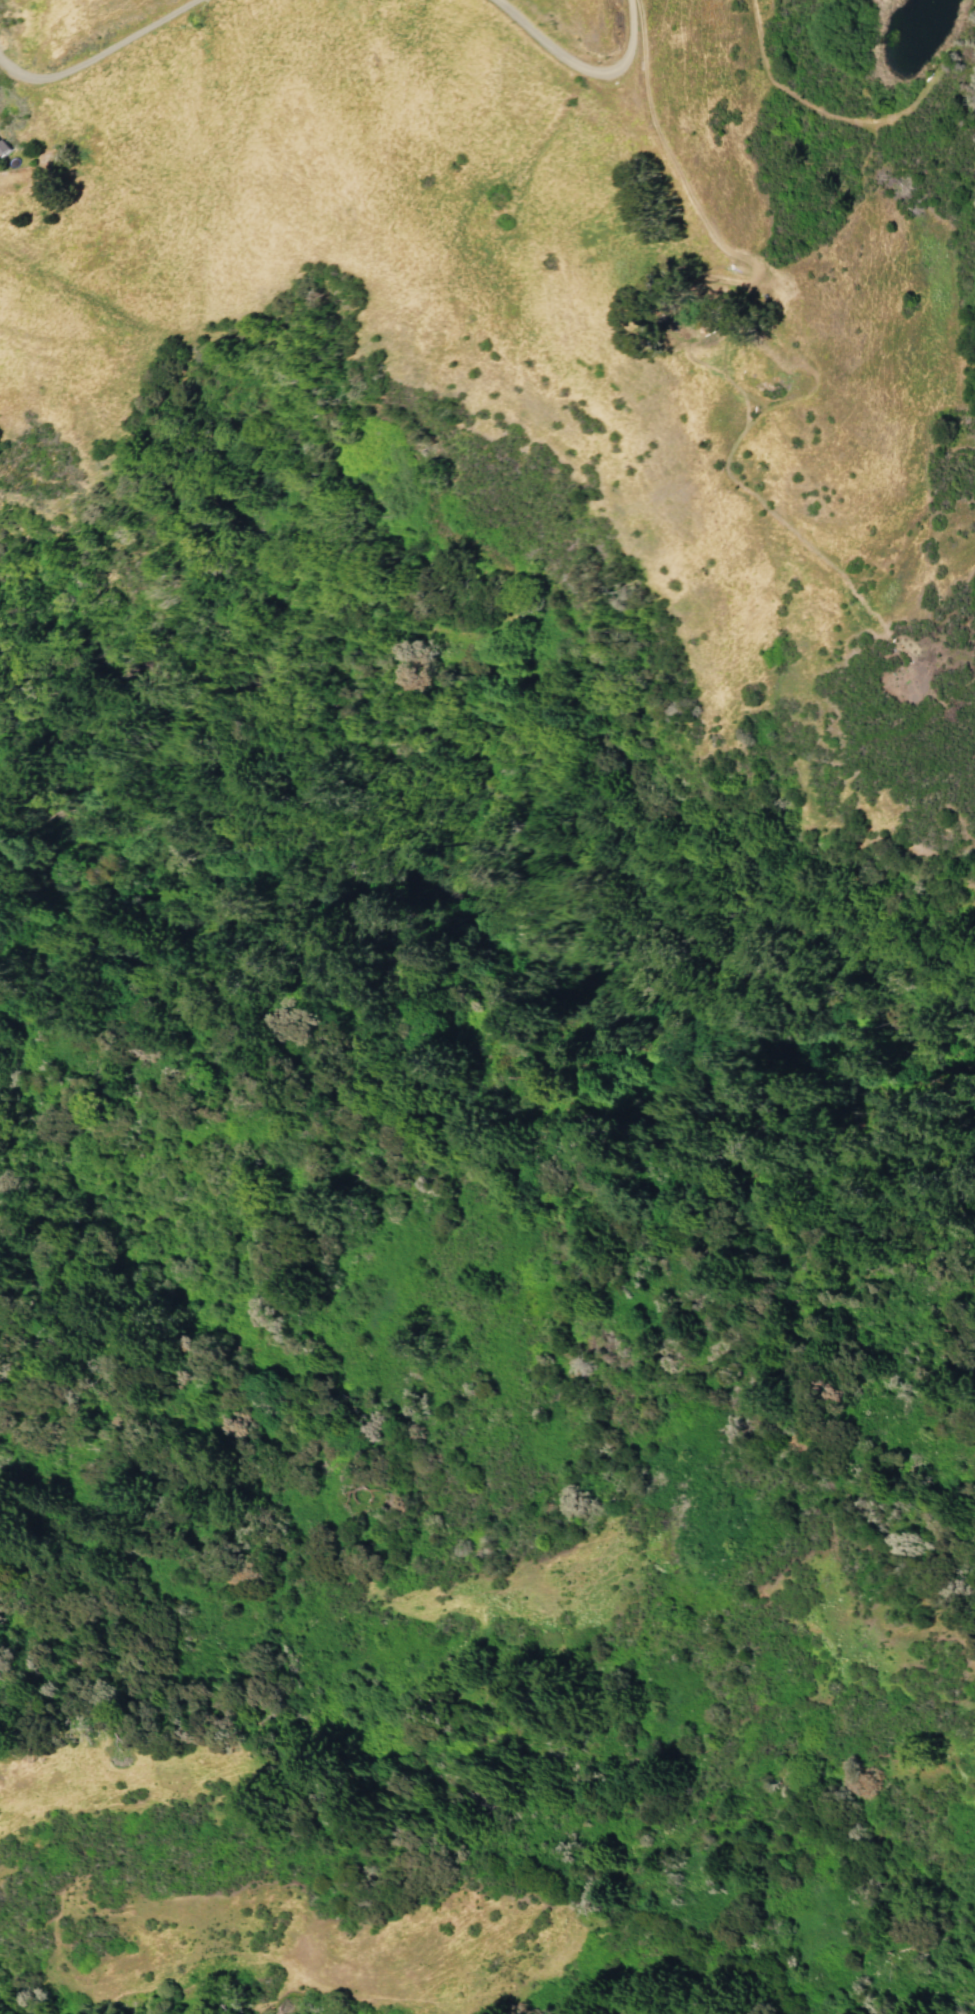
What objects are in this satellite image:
road: (96, 55)
road: (587, 68)
road: (817, 109)
building: (3, 156)
road: (674, 163)

